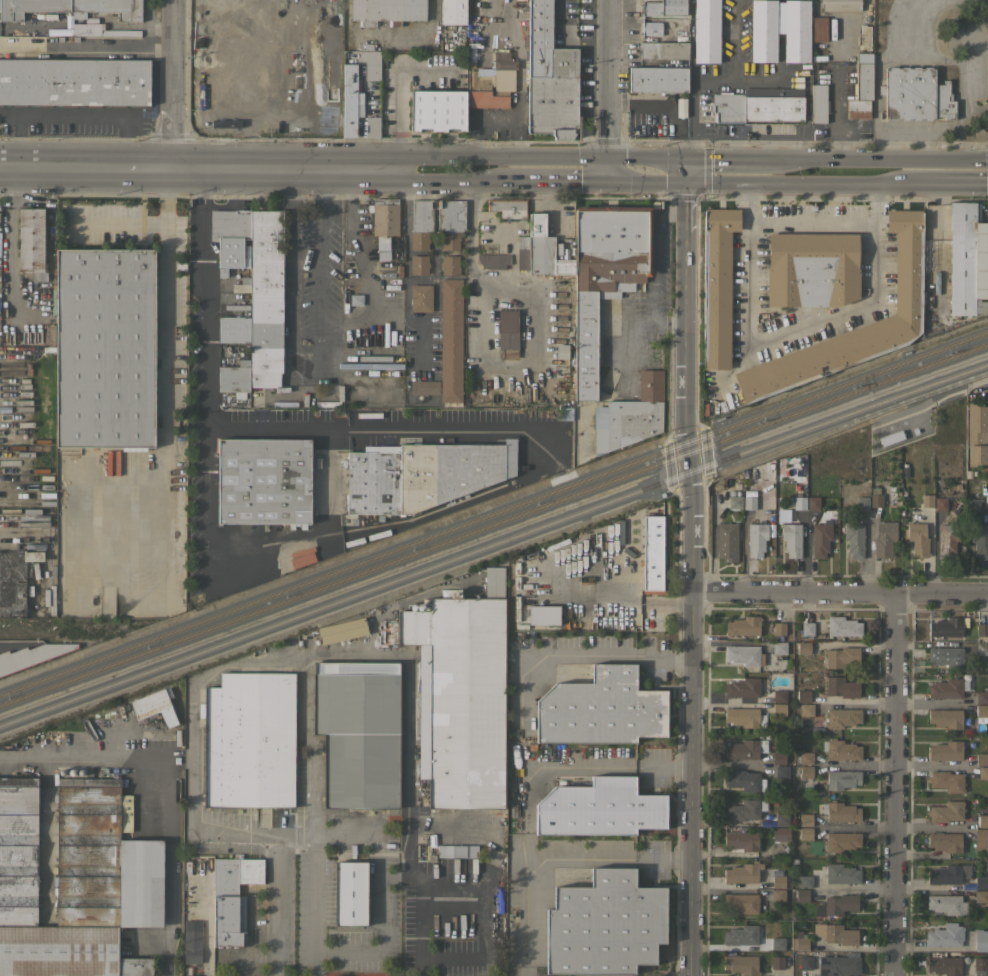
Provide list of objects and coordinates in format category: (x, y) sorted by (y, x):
building: (842, 5)
building: (664, 7)
building: (72, 8)
building: (388, 10)
building: (453, 11)
road: (909, 22)
building: (655, 27)
building: (79, 29)
building: (819, 29)
building: (706, 30)
building: (763, 30)
building: (797, 30)
building: (865, 36)
road: (734, 39)
road: (86, 50)
building: (664, 50)
building: (504, 60)
road: (954, 60)
building: (372, 65)
building: (549, 77)
road: (609, 79)
building: (658, 79)
building: (74, 82)
road: (172, 84)
road: (693, 84)
building: (861, 87)
building: (218, 90)
building: (484, 91)
building: (915, 94)
building: (351, 99)
building: (819, 102)
building: (759, 105)
building: (438, 110)
road: (71, 116)
building: (372, 125)
road: (899, 132)
road: (889, 145)
road: (926, 146)
road: (448, 157)
road: (552, 157)
road: (649, 157)
traffic signals: (690, 157)
traffic signals: (608, 158)
road: (789, 158)
road: (938, 159)
road: (53, 168)
road: (139, 168)
road: (288, 169)
road: (609, 169)
road: (558, 179)
road: (455, 180)
traffic signals: (610, 180)
road: (647, 181)
road: (932, 182)
traffic signals: (684, 183)
road: (715, 183)
road: (811, 183)
building: (508, 207)
building: (438, 215)
building: (385, 217)
road: (115, 222)
road: (811, 222)
building: (230, 237)
building: (419, 240)
building: (450, 240)
building: (31, 242)
building: (382, 243)
building: (539, 246)
building: (522, 252)
building: (382, 256)
road: (291, 258)
building: (493, 260)
building: (967, 261)
building: (419, 264)
building: (449, 265)
building: (564, 266)
road: (362, 269)
building: (811, 269)
road: (319, 272)
building: (907, 273)
building: (604, 275)
road: (404, 277)
building: (717, 286)
building: (239, 288)
building: (421, 297)
building: (265, 298)
building: (356, 299)
road: (163, 309)
building: (233, 329)
road: (794, 330)
building: (507, 333)
building: (450, 340)
building: (105, 348)
road: (203, 376)
building: (235, 378)
building: (424, 387)
building: (633, 414)
road: (378, 429)
building: (977, 433)
building: (890, 438)
building: (904, 472)
building: (422, 474)
building: (263, 480)
building: (735, 500)
building: (876, 500)
building: (927, 500)
building: (800, 502)
building: (813, 502)
building: (749, 503)
building: (862, 503)
building: (940, 503)
building: (972, 503)
railway: (493, 514)
railway: (493, 527)
building: (884, 538)
building: (756, 539)
building: (791, 539)
building: (820, 539)
building: (918, 539)
building: (854, 540)
building: (980, 540)
railway: (493, 541)
building: (727, 541)
building: (947, 542)
building: (653, 555)
road: (693, 578)
building: (15, 581)
road: (840, 593)
building: (52, 599)
road: (636, 602)
building: (544, 615)
building: (843, 626)
building: (747, 627)
building: (947, 627)
building: (779, 628)
building: (807, 628)
building: (342, 629)
building: (982, 629)
building: (803, 648)
building: (982, 649)
building: (31, 655)
building: (755, 655)
building: (842, 656)
building: (946, 656)
road: (307, 660)
building: (743, 687)
building: (841, 687)
building: (946, 689)
building: (460, 695)
building: (779, 695)
building: (803, 696)
building: (982, 697)
road: (933, 701)
building: (154, 706)
building: (601, 708)
building: (779, 709)
building: (806, 710)
building: (982, 710)
building: (745, 717)
building: (842, 717)
building: (946, 718)
building: (358, 732)
road: (191, 734)
road: (526, 737)
building: (249, 740)
building: (745, 749)
building: (841, 750)
building: (946, 750)
building: (779, 758)
building: (806, 758)
building: (981, 759)
road: (611, 765)
building: (782, 771)
building: (806, 771)
building: (983, 772)
building: (842, 779)
building: (745, 780)
building: (946, 780)
road: (168, 782)
road: (892, 784)
building: (599, 808)
building: (743, 810)
building: (946, 811)
building: (840, 812)
building: (781, 819)
building: (806, 819)
building: (983, 821)
building: (780, 833)
building: (805, 833)
road: (347, 835)
road: (295, 837)
building: (742, 840)
building: (981, 840)
building: (841, 841)
building: (944, 841)
building: (457, 851)
road: (604, 857)
building: (743, 872)
road: (402, 873)
building: (841, 874)
building: (949, 874)
building: (778, 877)
building: (76, 881)
building: (805, 881)
building: (981, 882)
road: (483, 883)
building: (350, 893)
building: (778, 894)
building: (802, 895)
building: (980, 896)
building: (232, 898)
building: (741, 902)
building: (840, 904)
building: (946, 904)
road: (275, 907)
building: (604, 925)
road: (382, 934)
building: (839, 934)
building: (741, 935)
building: (945, 935)
building: (981, 940)
building: (192, 941)
building: (778, 943)
building: (802, 943)
building: (777, 962)
building: (805, 962)
building: (980, 963)
building: (741, 964)
building: (840, 964)
building: (944, 965)
road: (421, 966)

